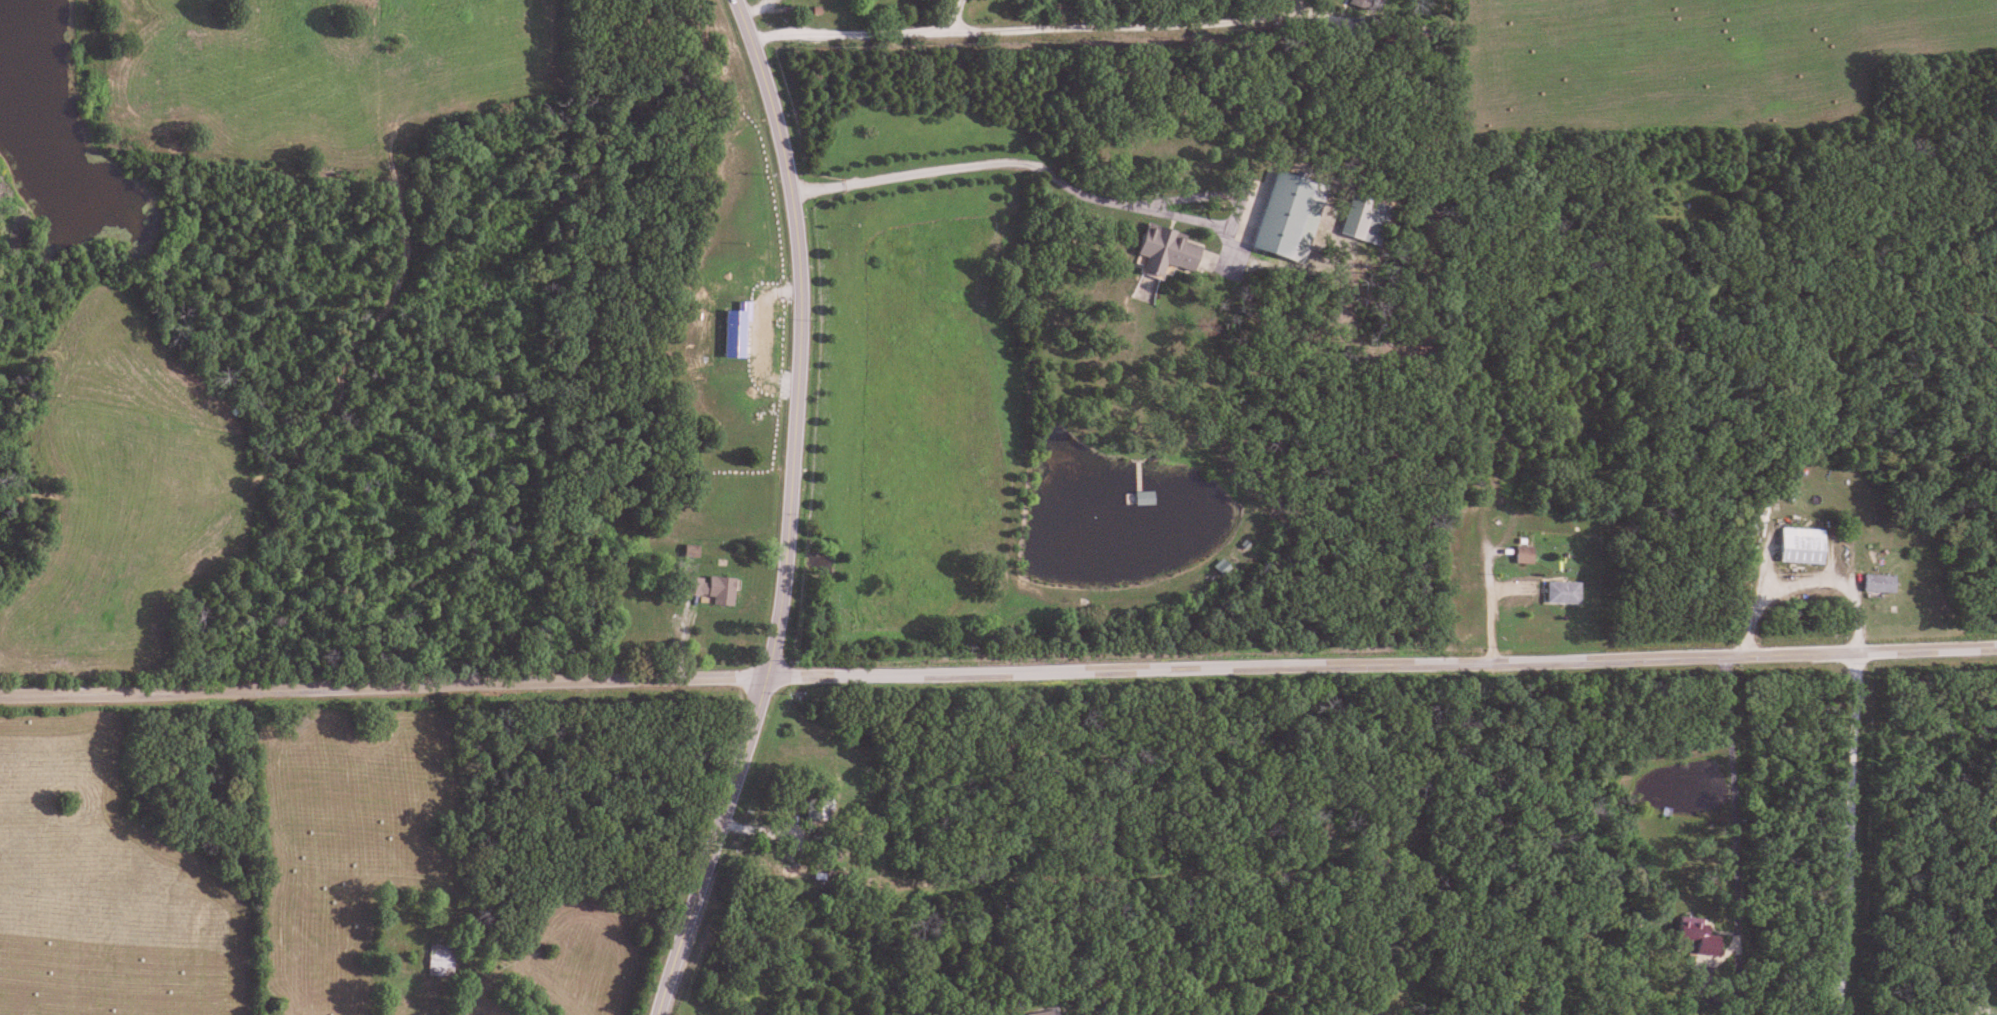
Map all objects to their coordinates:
building: (1358, 4)
road: (957, 15)
road: (1026, 28)
road: (1069, 187)
building: (1277, 213)
building: (1165, 250)
road: (798, 335)
building: (1139, 498)
building: (1797, 545)
building: (1522, 554)
building: (1875, 583)
building: (707, 588)
building: (1560, 592)
road: (1380, 660)
road: (381, 687)
road: (1843, 831)
road: (709, 845)
road: (1734, 870)
building: (1696, 936)
building: (438, 960)
road: (1968, 1011)

